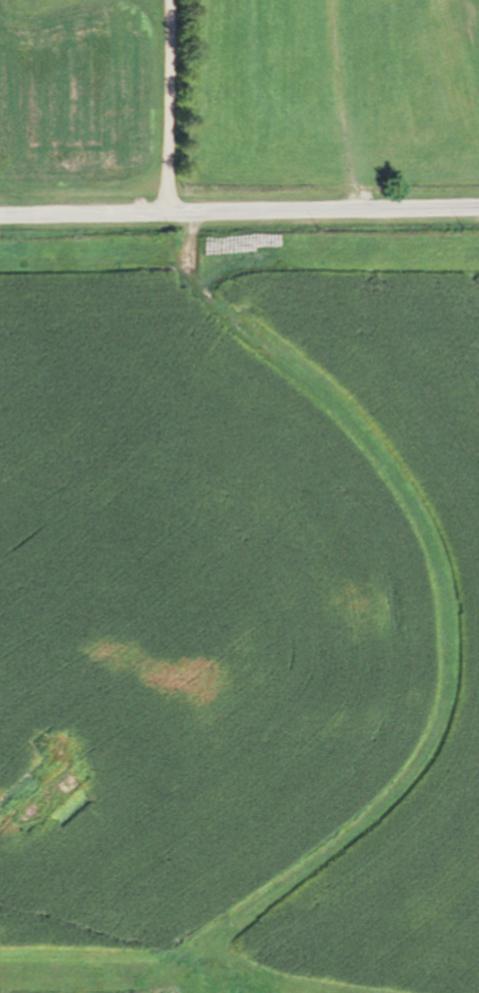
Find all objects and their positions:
road: (169, 107)
road: (239, 212)

